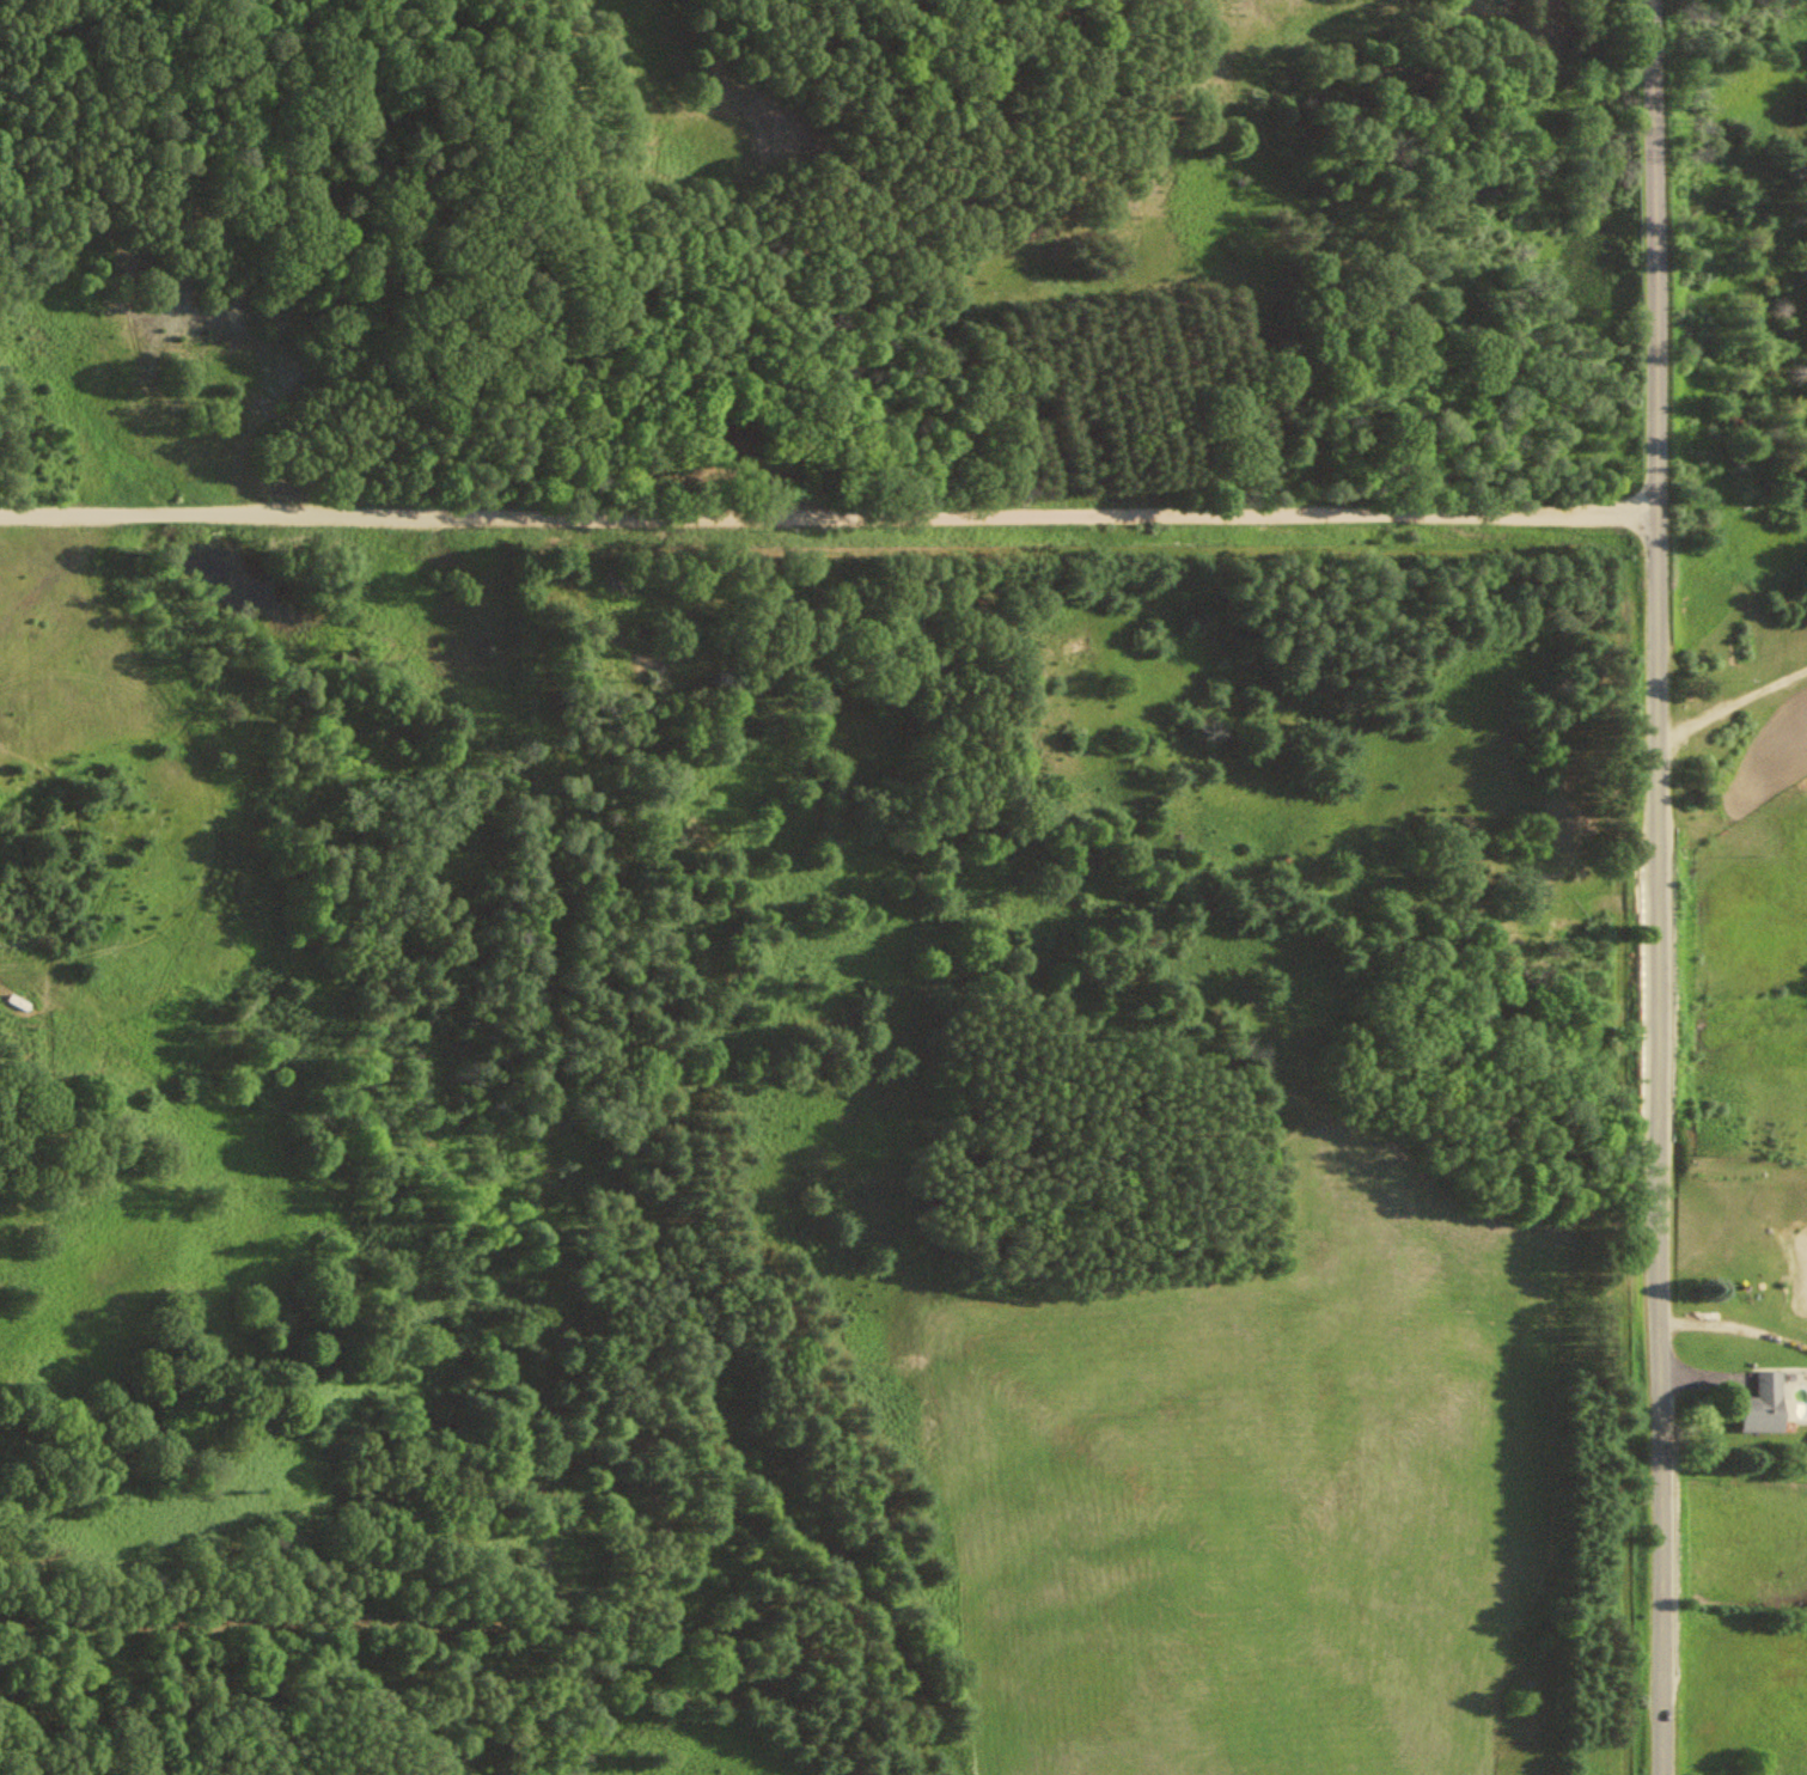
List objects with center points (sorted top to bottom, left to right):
road: (831, 519)
road: (1665, 886)
building: (1758, 1404)
road: (244, 1708)

